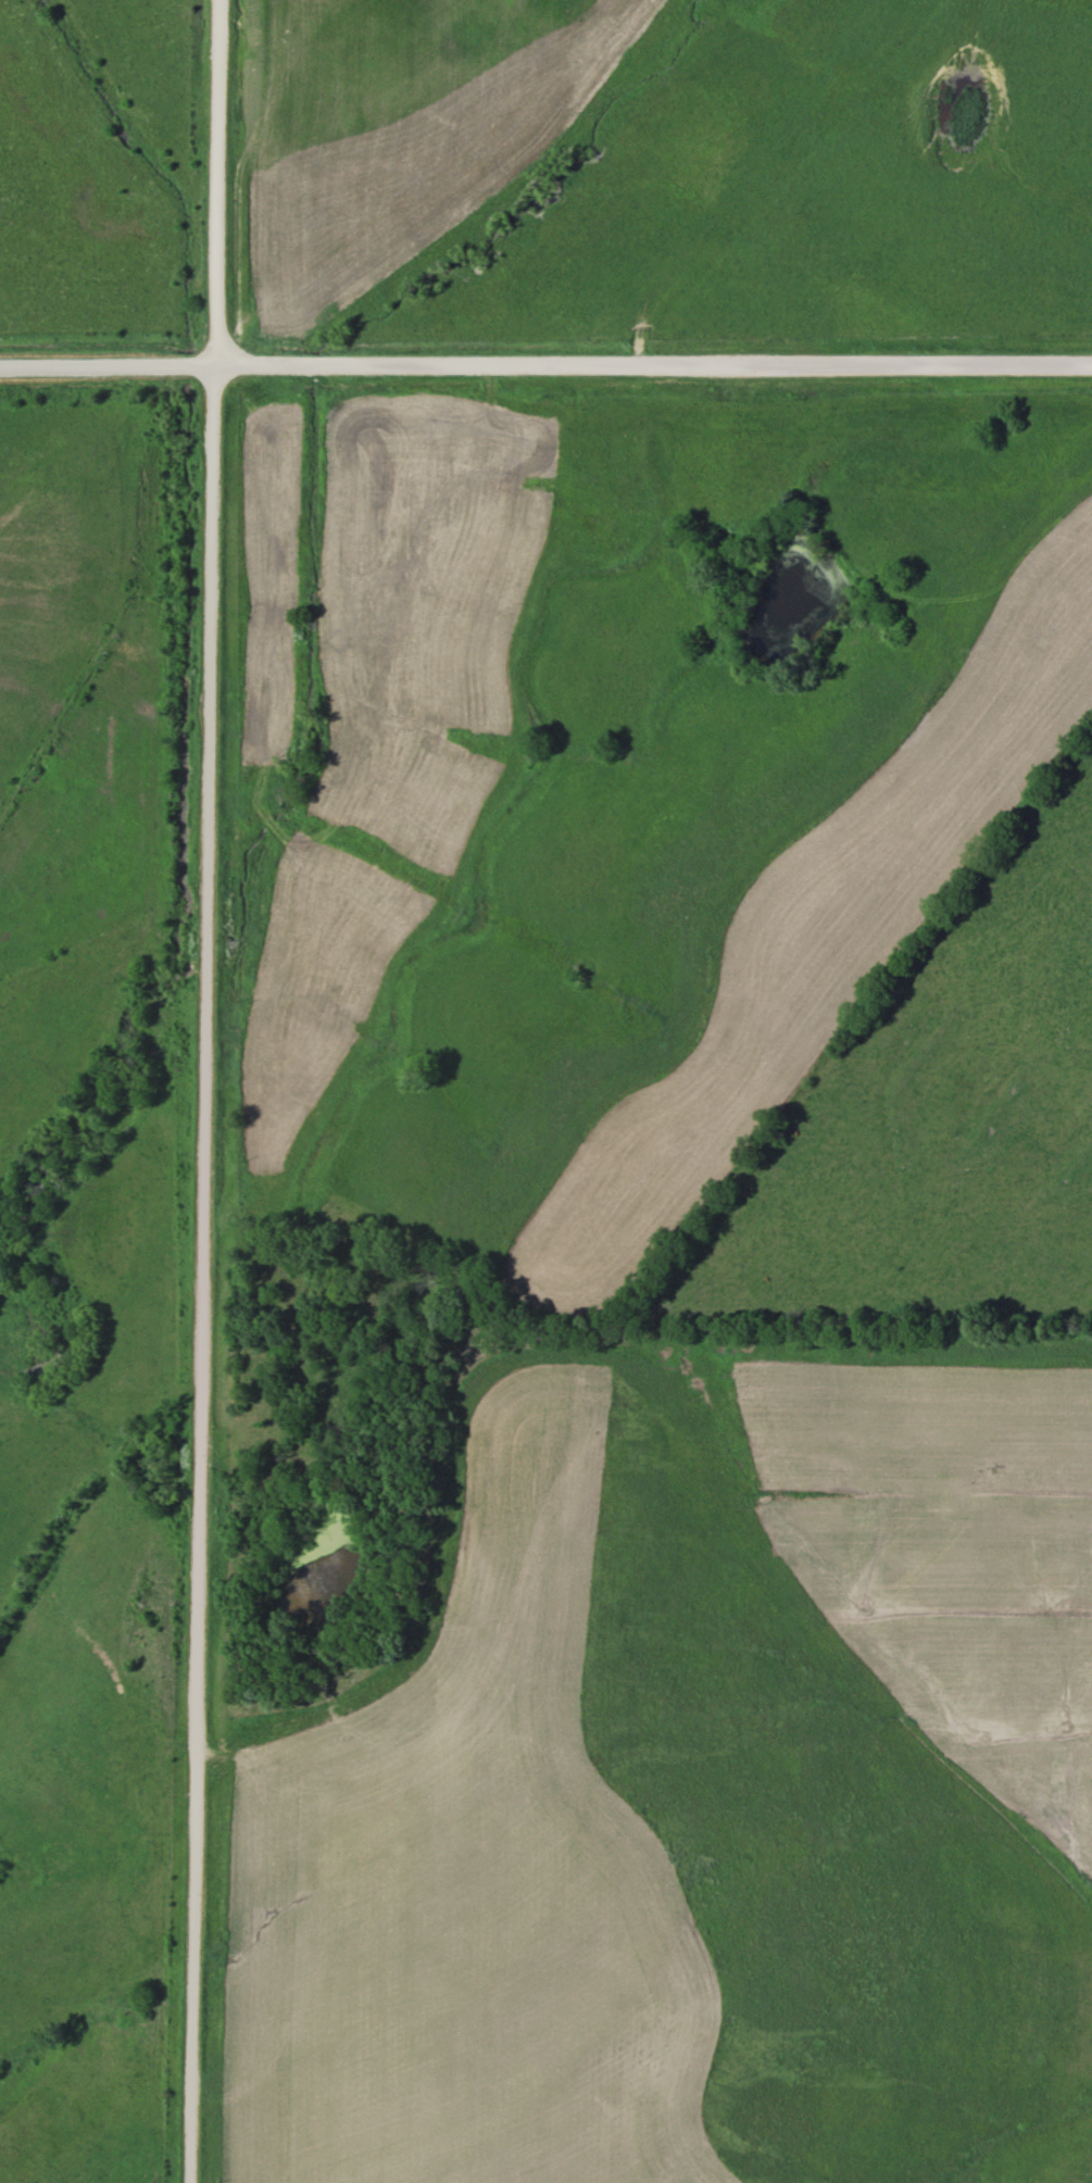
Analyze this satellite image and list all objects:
road: (545, 367)
road: (204, 1091)

